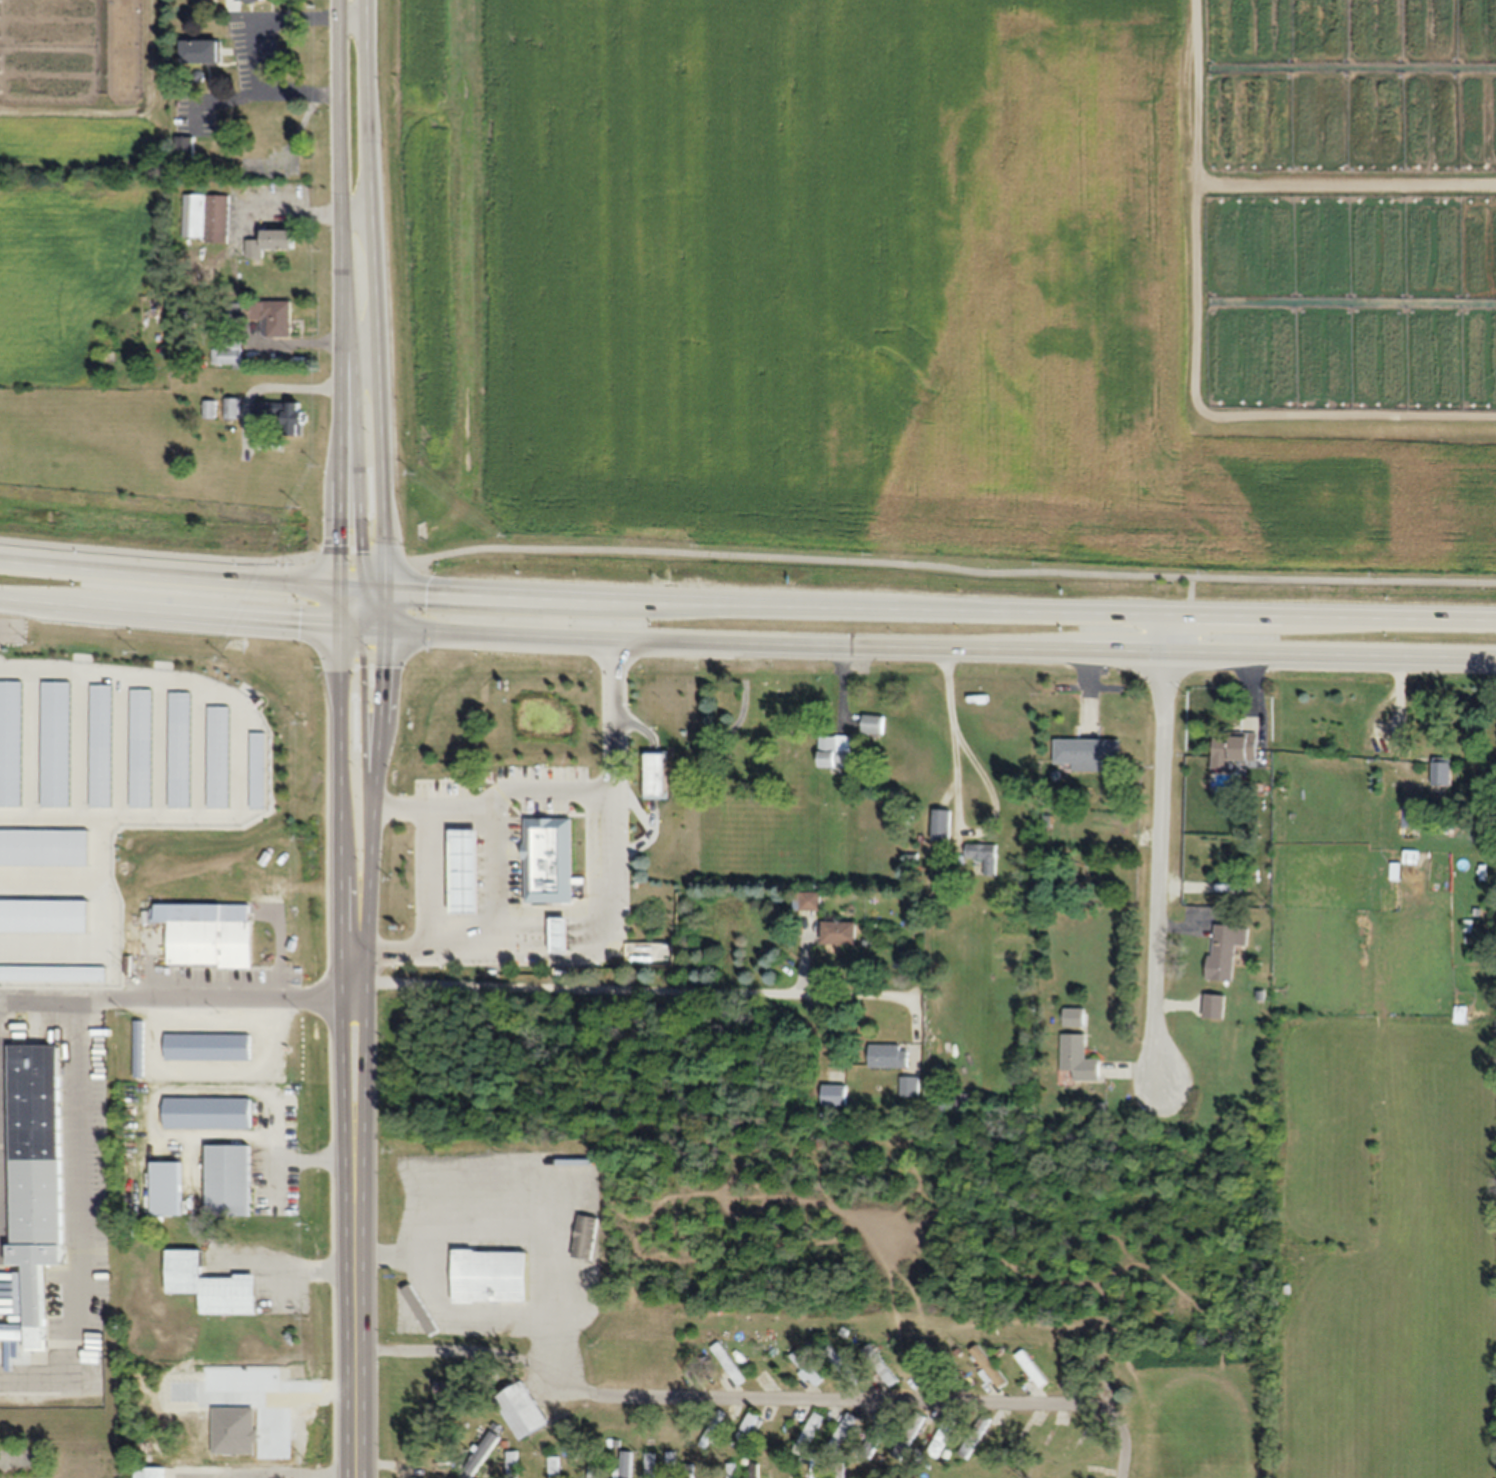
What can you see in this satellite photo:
building: (251, 0)
road: (253, 35)
building: (201, 52)
road: (369, 94)
road: (341, 95)
building: (187, 147)
building: (192, 216)
building: (217, 219)
crop: (84, 241)
building: (271, 241)
crop: (949, 274)
building: (272, 316)
building: (226, 356)
road: (343, 387)
road: (384, 388)
building: (232, 407)
building: (210, 408)
building: (283, 414)
road: (358, 442)
road: (747, 554)
road: (183, 572)
traffic signals: (339, 585)
road: (375, 587)
traffic signals: (383, 588)
road: (338, 604)
road: (350, 604)
road: (373, 607)
road: (383, 607)
road: (939, 608)
road: (169, 609)
traffic signals: (338, 623)
road: (347, 624)
traffic signals: (384, 626)
road: (6, 629)
road: (926, 644)
building: (180, 706)
building: (872, 724)
building: (671, 727)
road: (363, 734)
road: (33, 745)
road: (81, 746)
road: (121, 748)
road: (161, 749)
building: (1233, 750)
building: (834, 751)
road: (203, 752)
building: (1089, 753)
road: (242, 757)
building: (219, 758)
building: (180, 768)
building: (1441, 771)
road: (496, 802)
road: (337, 803)
road: (375, 804)
building: (684, 805)
road: (958, 809)
building: (1410, 816)
building: (942, 824)
road: (1160, 846)
road: (98, 847)
building: (985, 856)
building: (551, 859)
building: (462, 874)
road: (493, 882)
road: (105, 887)
building: (807, 900)
building: (730, 904)
road: (54, 913)
road: (614, 916)
building: (209, 934)
building: (838, 934)
building: (560, 936)
building: (55, 941)
building: (1226, 950)
road: (154, 966)
road: (47, 971)
road: (651, 988)
road: (219, 998)
road: (36, 999)
building: (1075, 1016)
building: (208, 1047)
building: (140, 1049)
building: (890, 1056)
building: (1080, 1058)
road: (211, 1073)
building: (911, 1087)
building: (836, 1095)
road: (81, 1105)
building: (207, 1114)
road: (154, 1123)
road: (267, 1123)
road: (192, 1167)
building: (482, 1175)
building: (29, 1176)
building: (228, 1178)
road: (277, 1182)
building: (165, 1189)
road: (439, 1210)
road: (358, 1230)
building: (584, 1237)
road: (393, 1254)
road: (287, 1264)
building: (488, 1275)
building: (210, 1285)
building: (421, 1309)
road: (81, 1332)
building: (731, 1363)
building: (843, 1364)
building: (881, 1365)
building: (807, 1368)
building: (1033, 1368)
building: (450, 1385)
road: (839, 1398)
building: (522, 1410)
building: (745, 1430)
building: (809, 1433)
building: (843, 1433)
building: (944, 1433)
building: (877, 1435)
building: (908, 1439)
building: (475, 1459)
building: (672, 1464)
building: (626, 1465)
building: (651, 1465)
building: (511, 1466)
building: (556, 1467)
building: (816, 1468)
building: (693, 1470)
building: (732, 1470)
building: (754, 1470)
building: (841, 1470)
building: (594, 1471)
building: (149, 1473)

